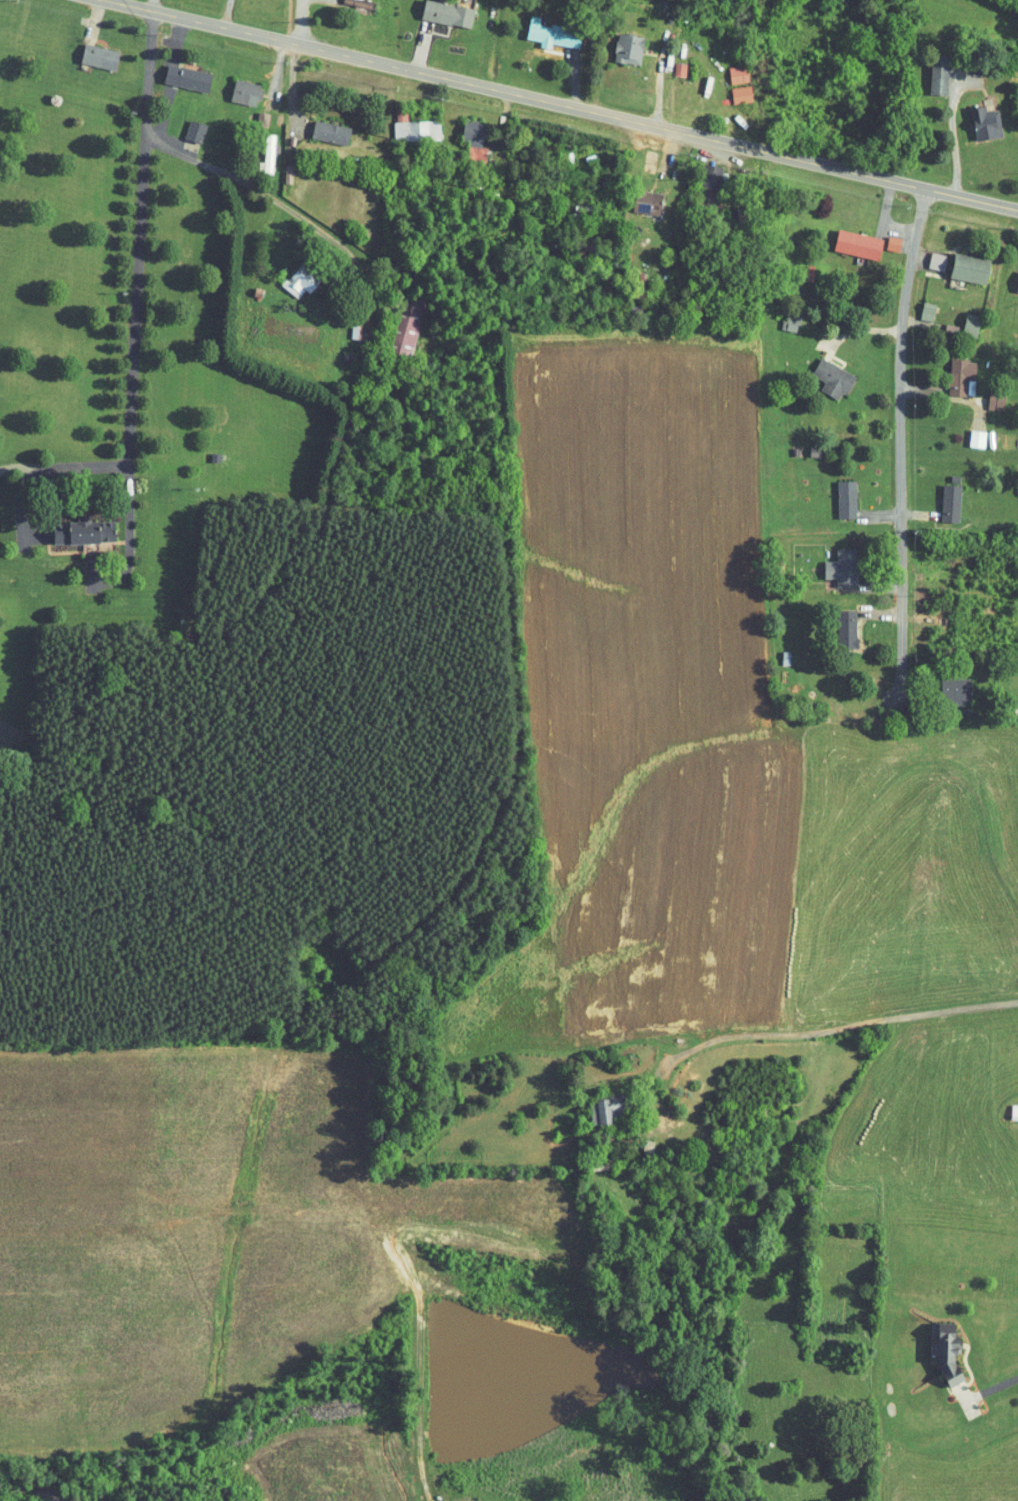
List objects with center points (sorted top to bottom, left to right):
building: (353, 2)
building: (439, 9)
road: (302, 24)
building: (543, 28)
building: (618, 42)
building: (90, 50)
building: (668, 63)
building: (727, 68)
building: (178, 72)
road: (727, 72)
building: (929, 72)
building: (236, 87)
building: (730, 88)
road: (557, 109)
building: (252, 113)
building: (976, 117)
building: (404, 123)
building: (184, 125)
building: (321, 126)
building: (463, 127)
building: (258, 147)
building: (278, 168)
building: (638, 196)
road: (259, 200)
road: (886, 219)
building: (884, 237)
building: (849, 238)
road: (134, 249)
building: (952, 260)
building: (290, 275)
building: (1013, 276)
building: (917, 305)
building: (780, 316)
building: (961, 318)
building: (396, 319)
building: (348, 323)
building: (952, 371)
building: (822, 373)
building: (985, 394)
building: (966, 433)
road: (901, 444)
building: (836, 493)
building: (940, 497)
building: (832, 562)
building: (837, 623)
building: (944, 685)
road: (810, 1036)
building: (596, 1104)
building: (1009, 1106)
building: (939, 1346)
road: (999, 1387)

